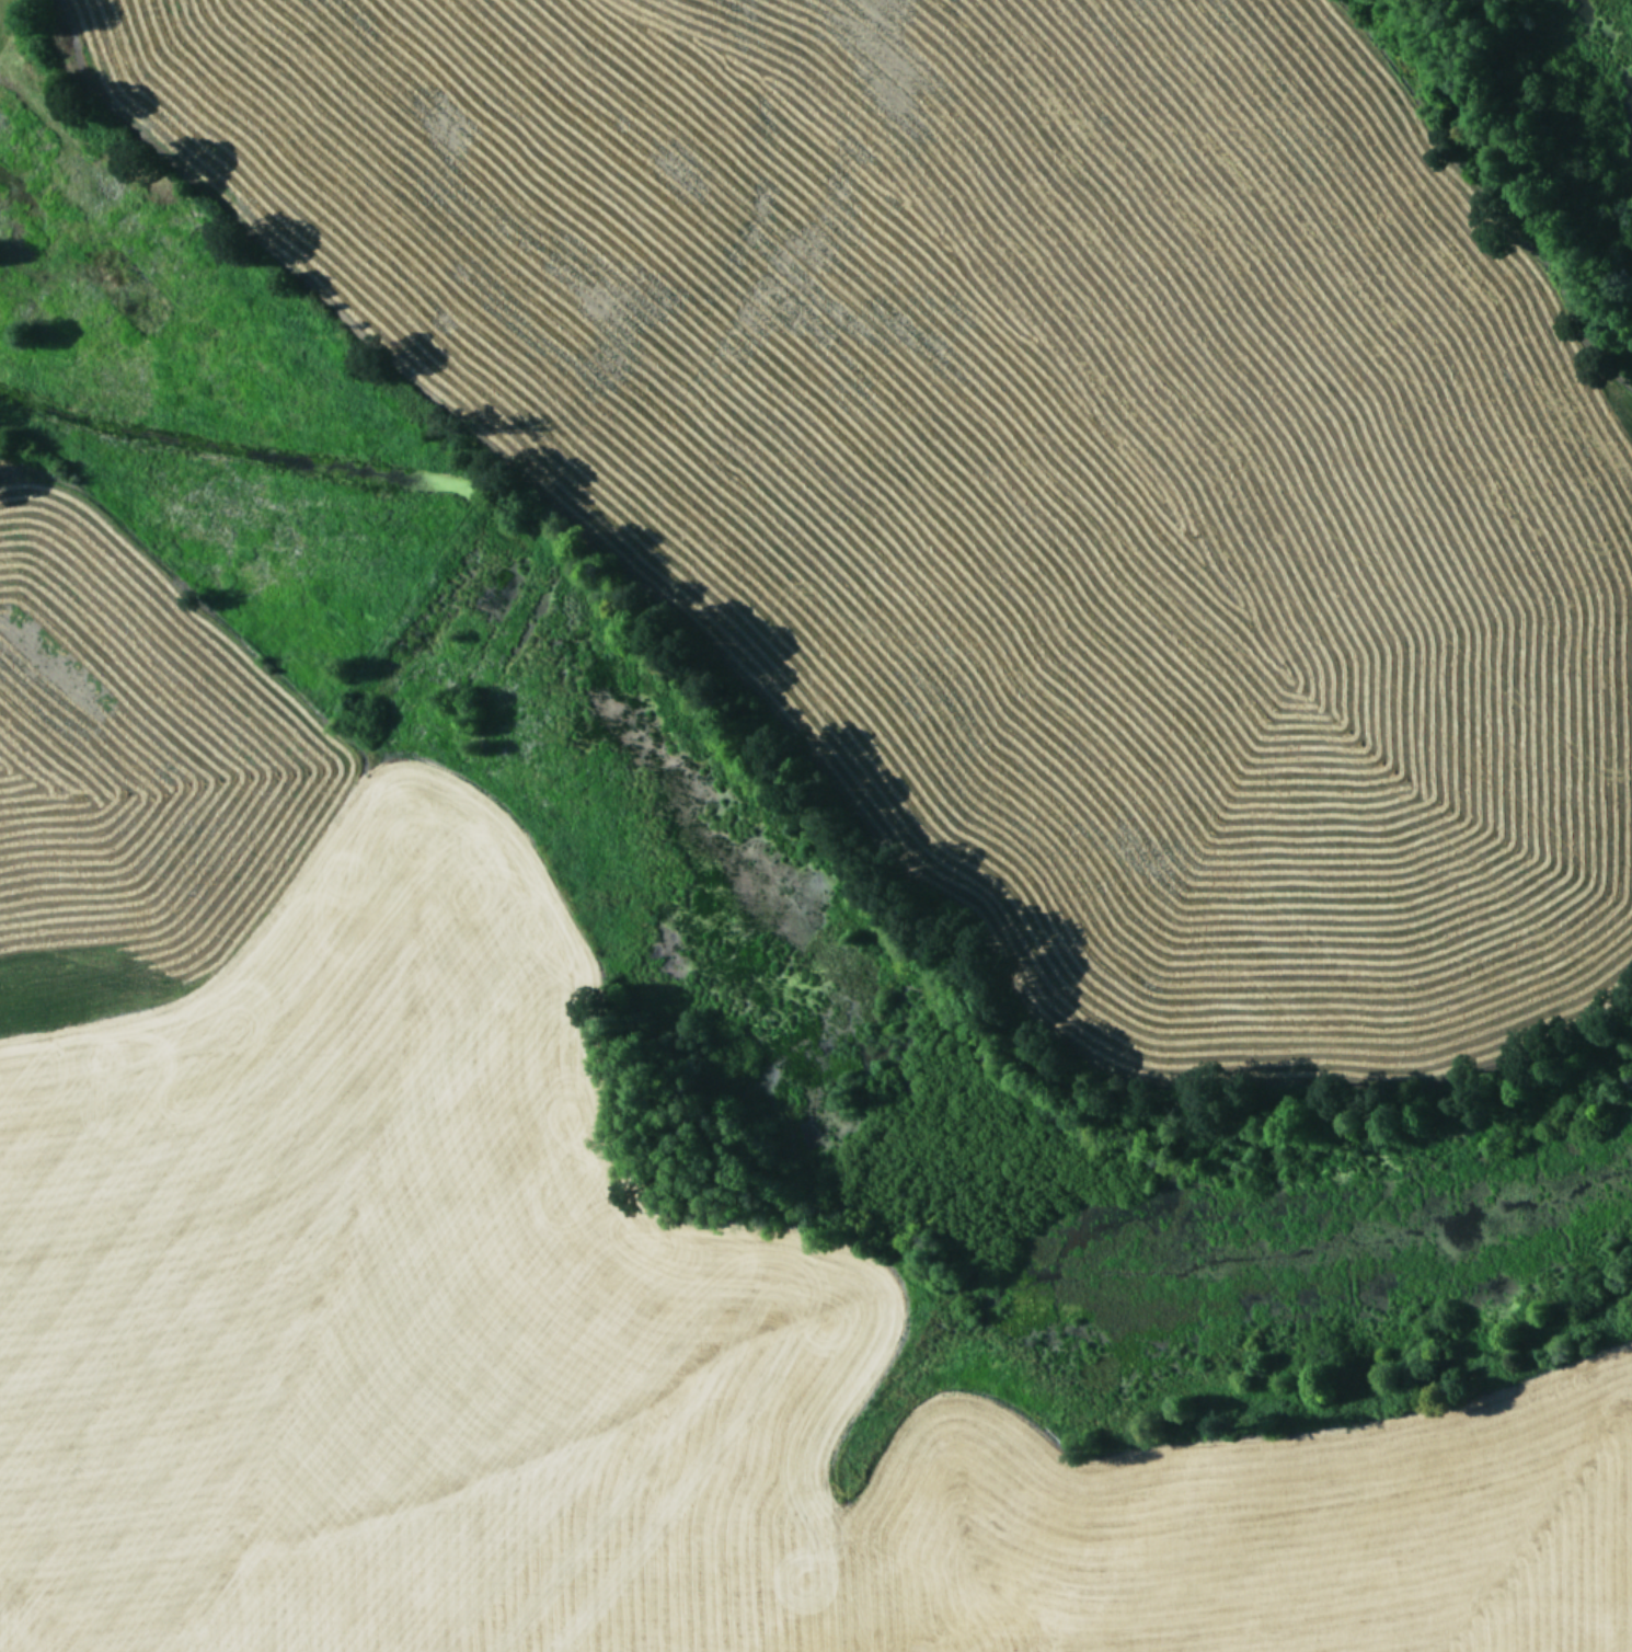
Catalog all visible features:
crop: (816, 826)

